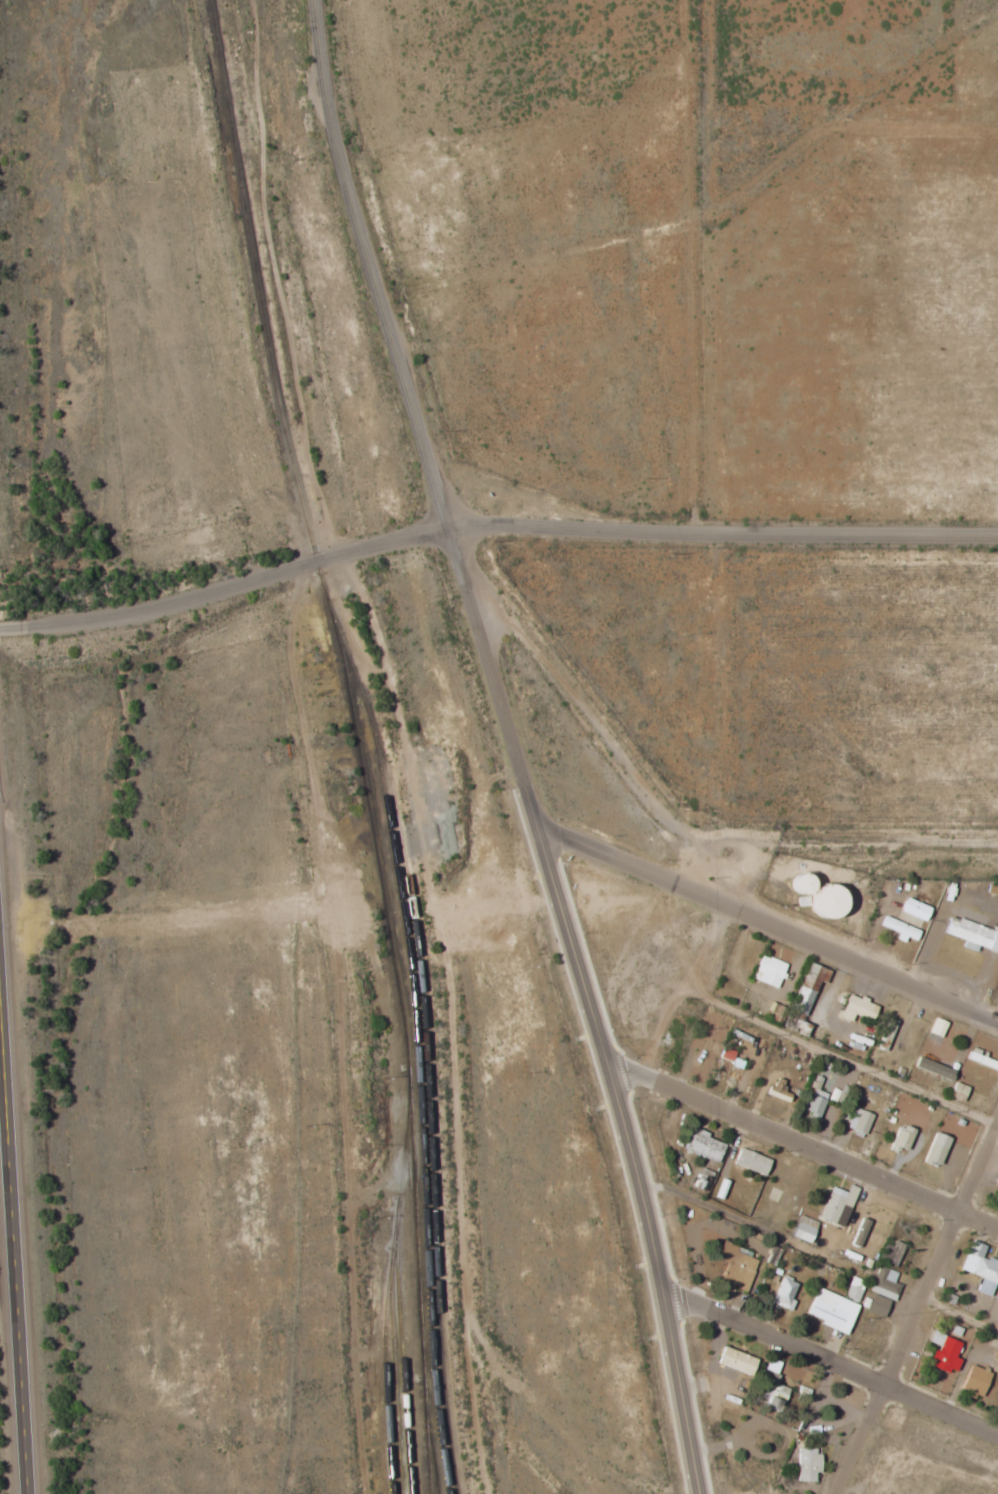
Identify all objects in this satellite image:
road: (389, 327)
road: (504, 525)
road: (12, 627)
road: (563, 699)
railway: (358, 741)
building: (797, 882)
building: (821, 900)
building: (912, 909)
road: (768, 924)
building: (898, 929)
building: (972, 934)
building: (767, 971)
building: (807, 987)
building: (855, 1008)
building: (936, 1027)
building: (886, 1034)
railway: (426, 1060)
building: (731, 1060)
road: (609, 1068)
building: (932, 1068)
building: (956, 1092)
building: (776, 1093)
building: (813, 1098)
railway: (419, 1104)
building: (858, 1121)
building: (900, 1138)
building: (701, 1145)
road: (804, 1145)
building: (934, 1149)
building: (750, 1161)
building: (836, 1203)
building: (802, 1229)
road: (13, 1257)
building: (734, 1266)
building: (980, 1268)
building: (884, 1283)
building: (853, 1289)
railway: (387, 1292)
building: (783, 1294)
building: (876, 1305)
building: (830, 1310)
road: (921, 1317)
building: (955, 1331)
building: (944, 1352)
railway: (402, 1354)
building: (734, 1360)
building: (996, 1360)
road: (831, 1371)
railway: (394, 1378)
building: (975, 1381)
building: (774, 1398)
railway: (433, 1447)
building: (806, 1464)

